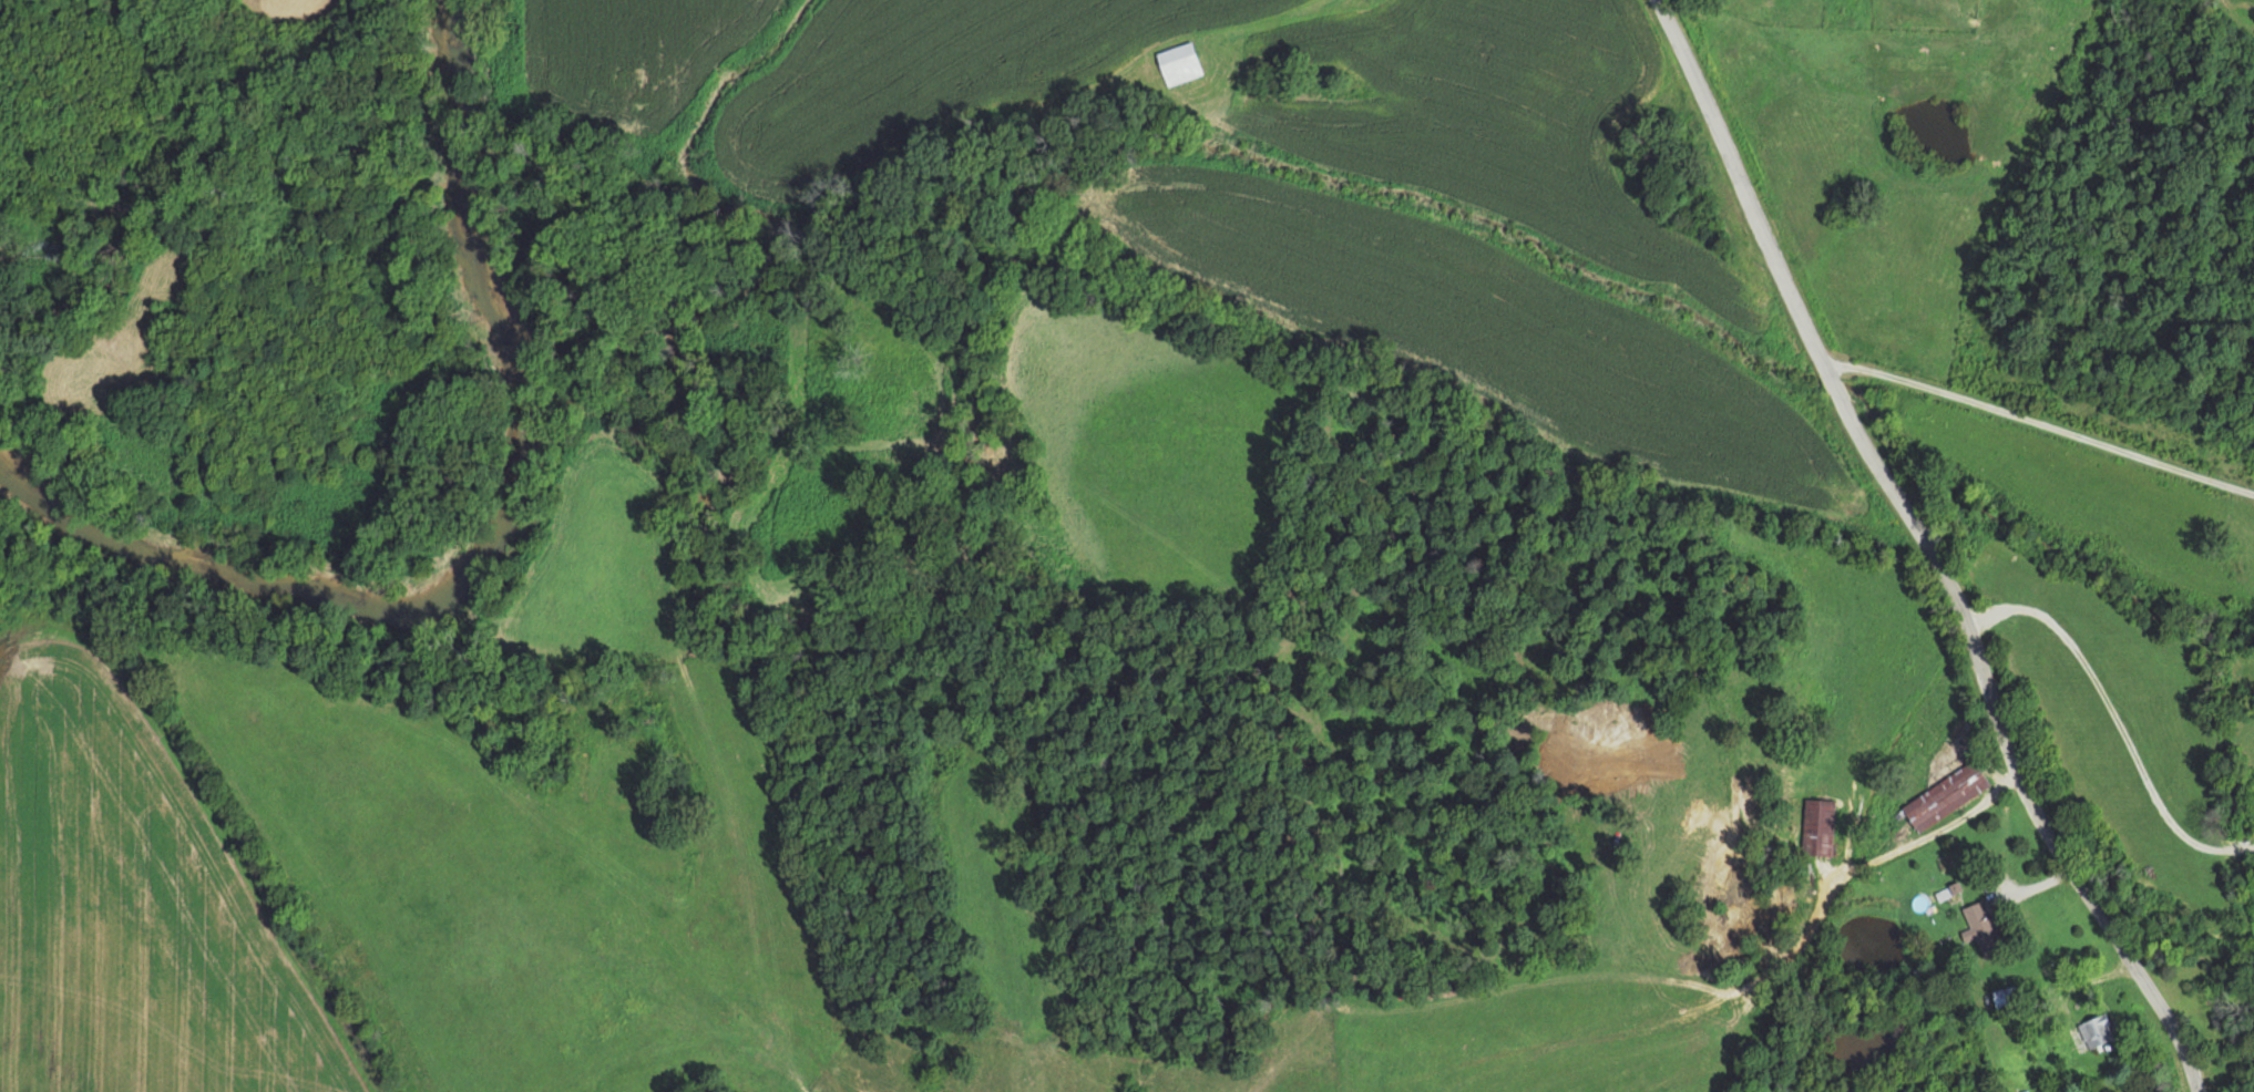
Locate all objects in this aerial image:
building: (1177, 63)
road: (2035, 415)
river: (492, 543)
road: (1897, 555)
building: (1944, 796)
building: (1816, 827)
building: (1984, 928)
building: (2005, 997)
building: (2094, 1031)

